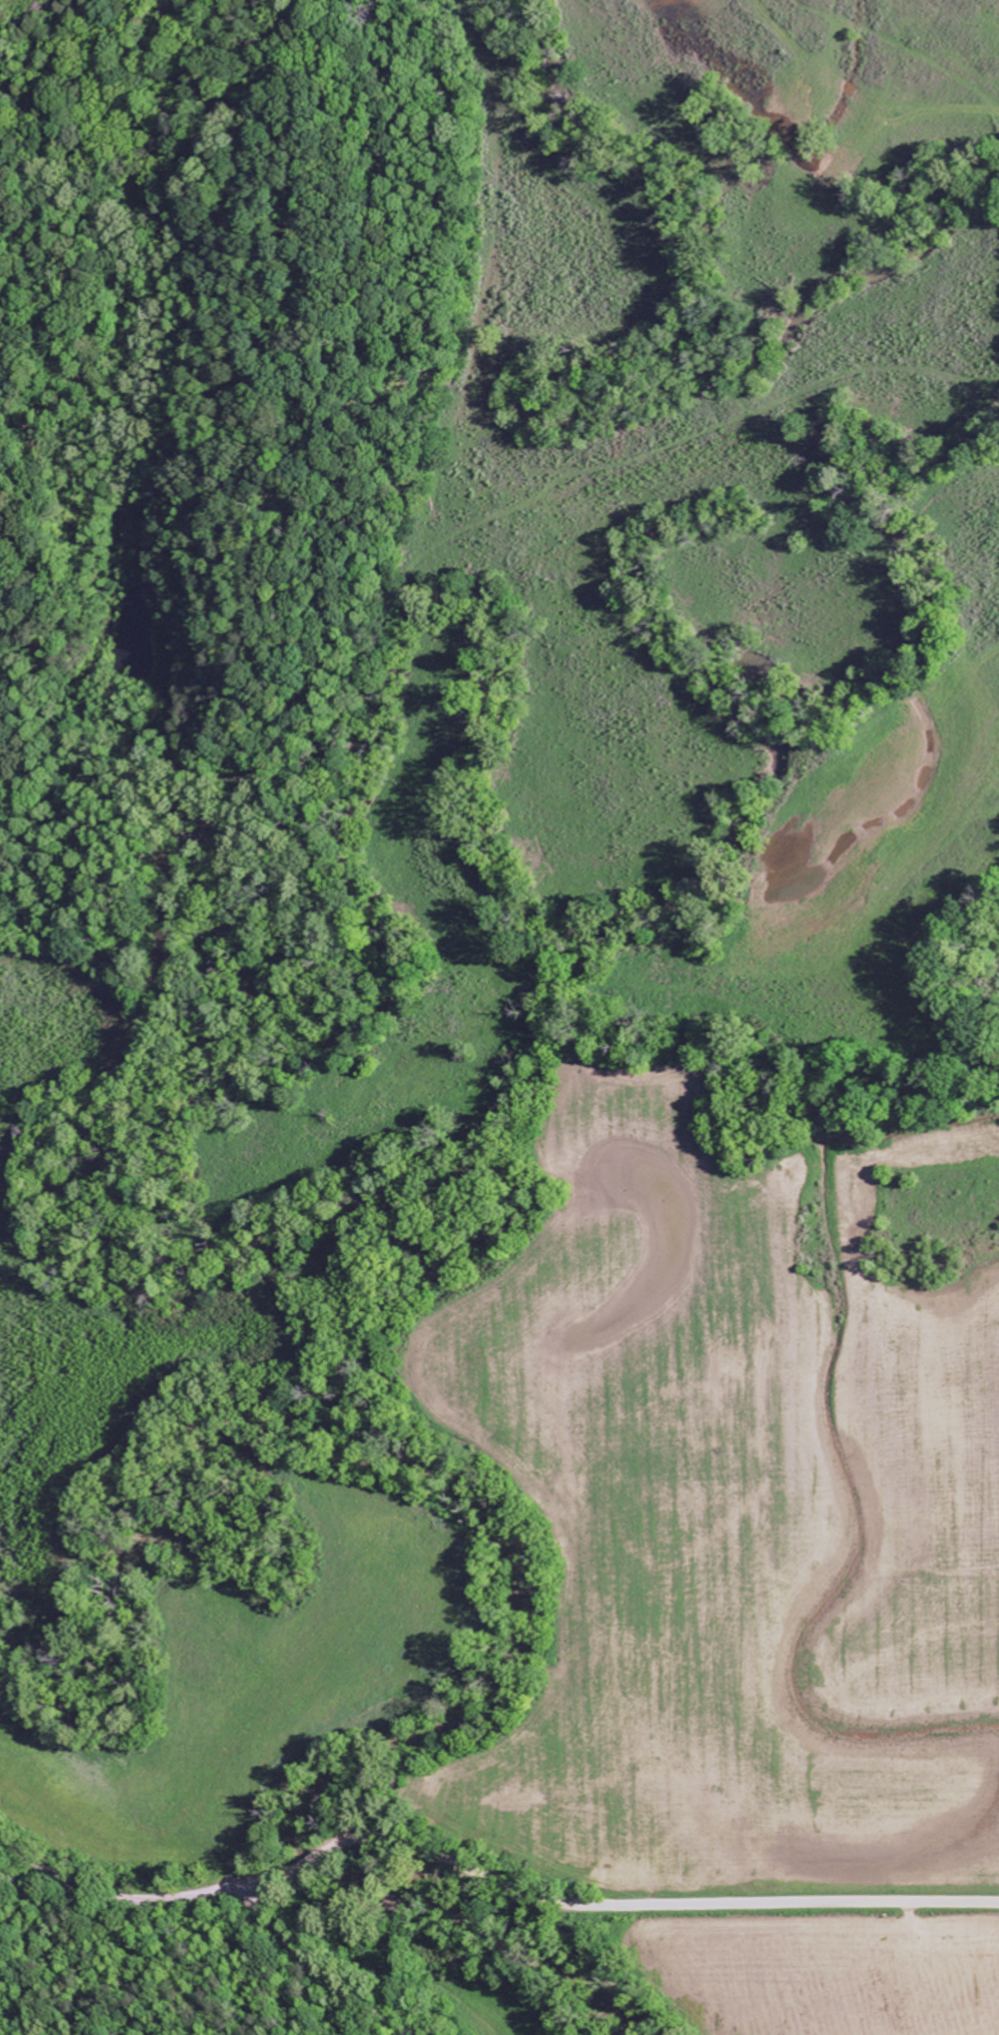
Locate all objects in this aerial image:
road: (482, 1877)
road: (310, 1967)

